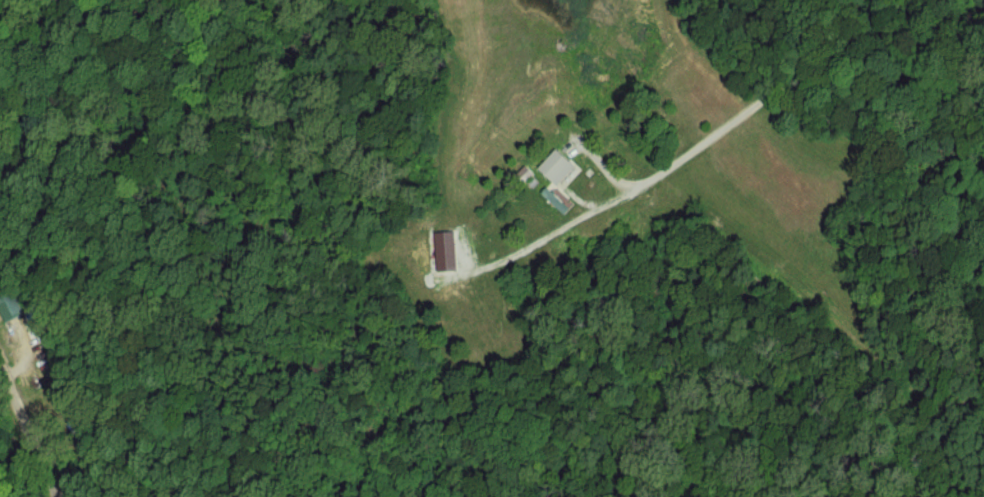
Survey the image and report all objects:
road: (720, 135)
building: (559, 168)
building: (12, 308)
road: (214, 347)
road: (27, 434)

